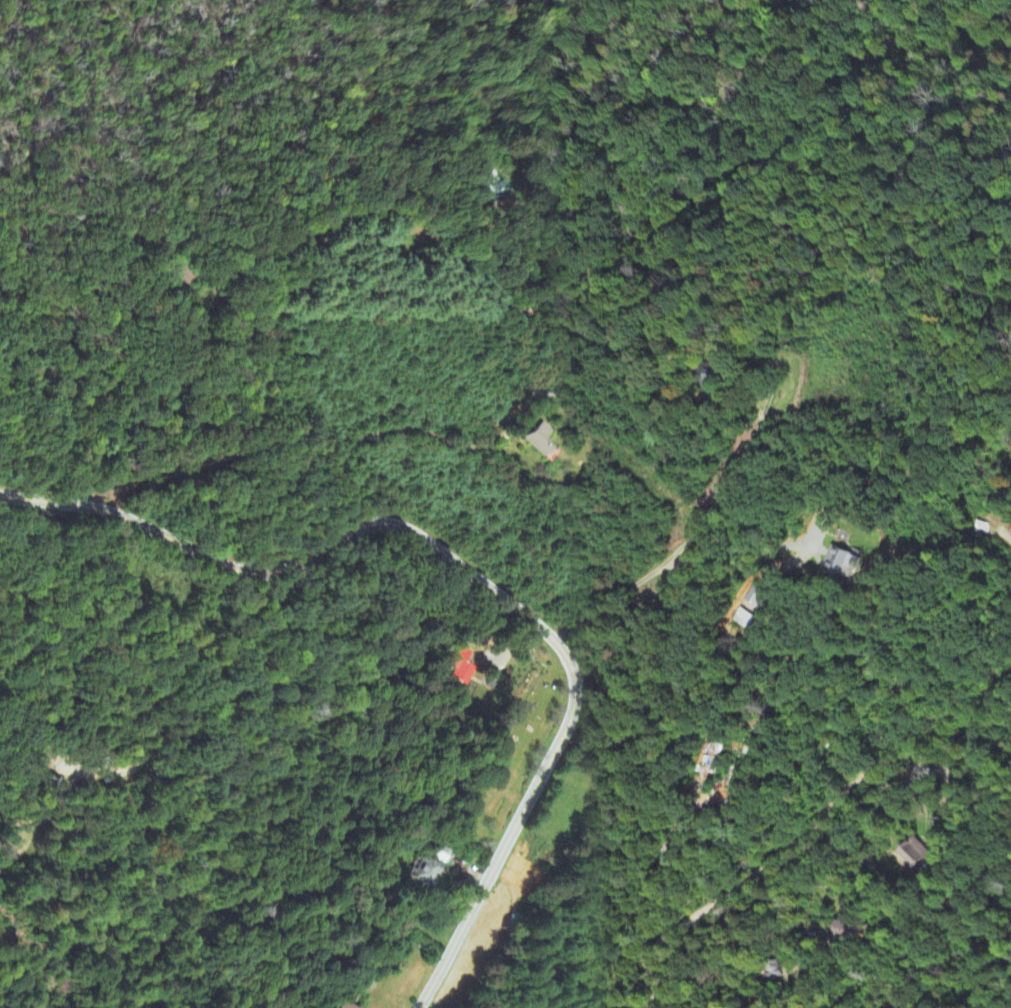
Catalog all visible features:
building: (490, 185)
road: (525, 256)
road: (766, 406)
building: (542, 439)
road: (353, 450)
road: (744, 549)
building: (845, 561)
road: (471, 575)
building: (761, 599)
building: (463, 666)
road: (935, 773)
road: (806, 831)
building: (917, 854)
building: (427, 872)
building: (848, 931)
building: (345, 1005)

